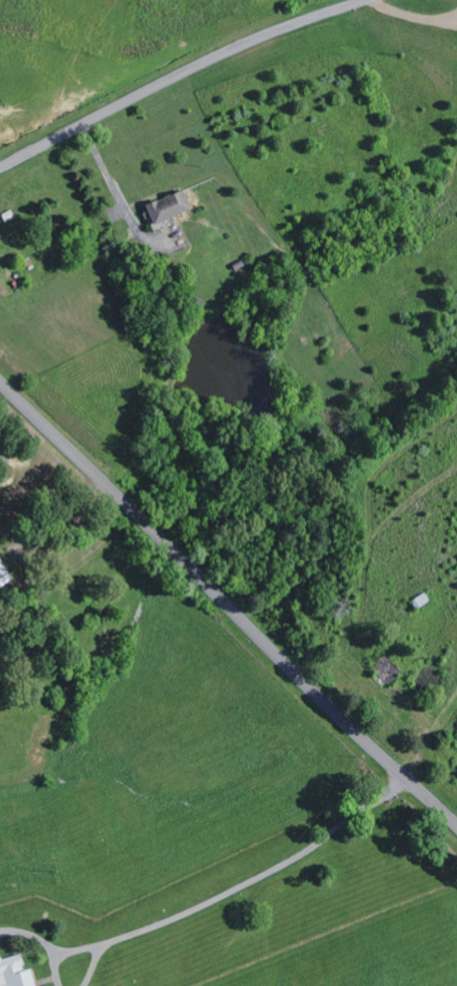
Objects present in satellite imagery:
road: (178, 77)
building: (170, 208)
building: (4, 576)
road: (227, 604)
building: (16, 972)

